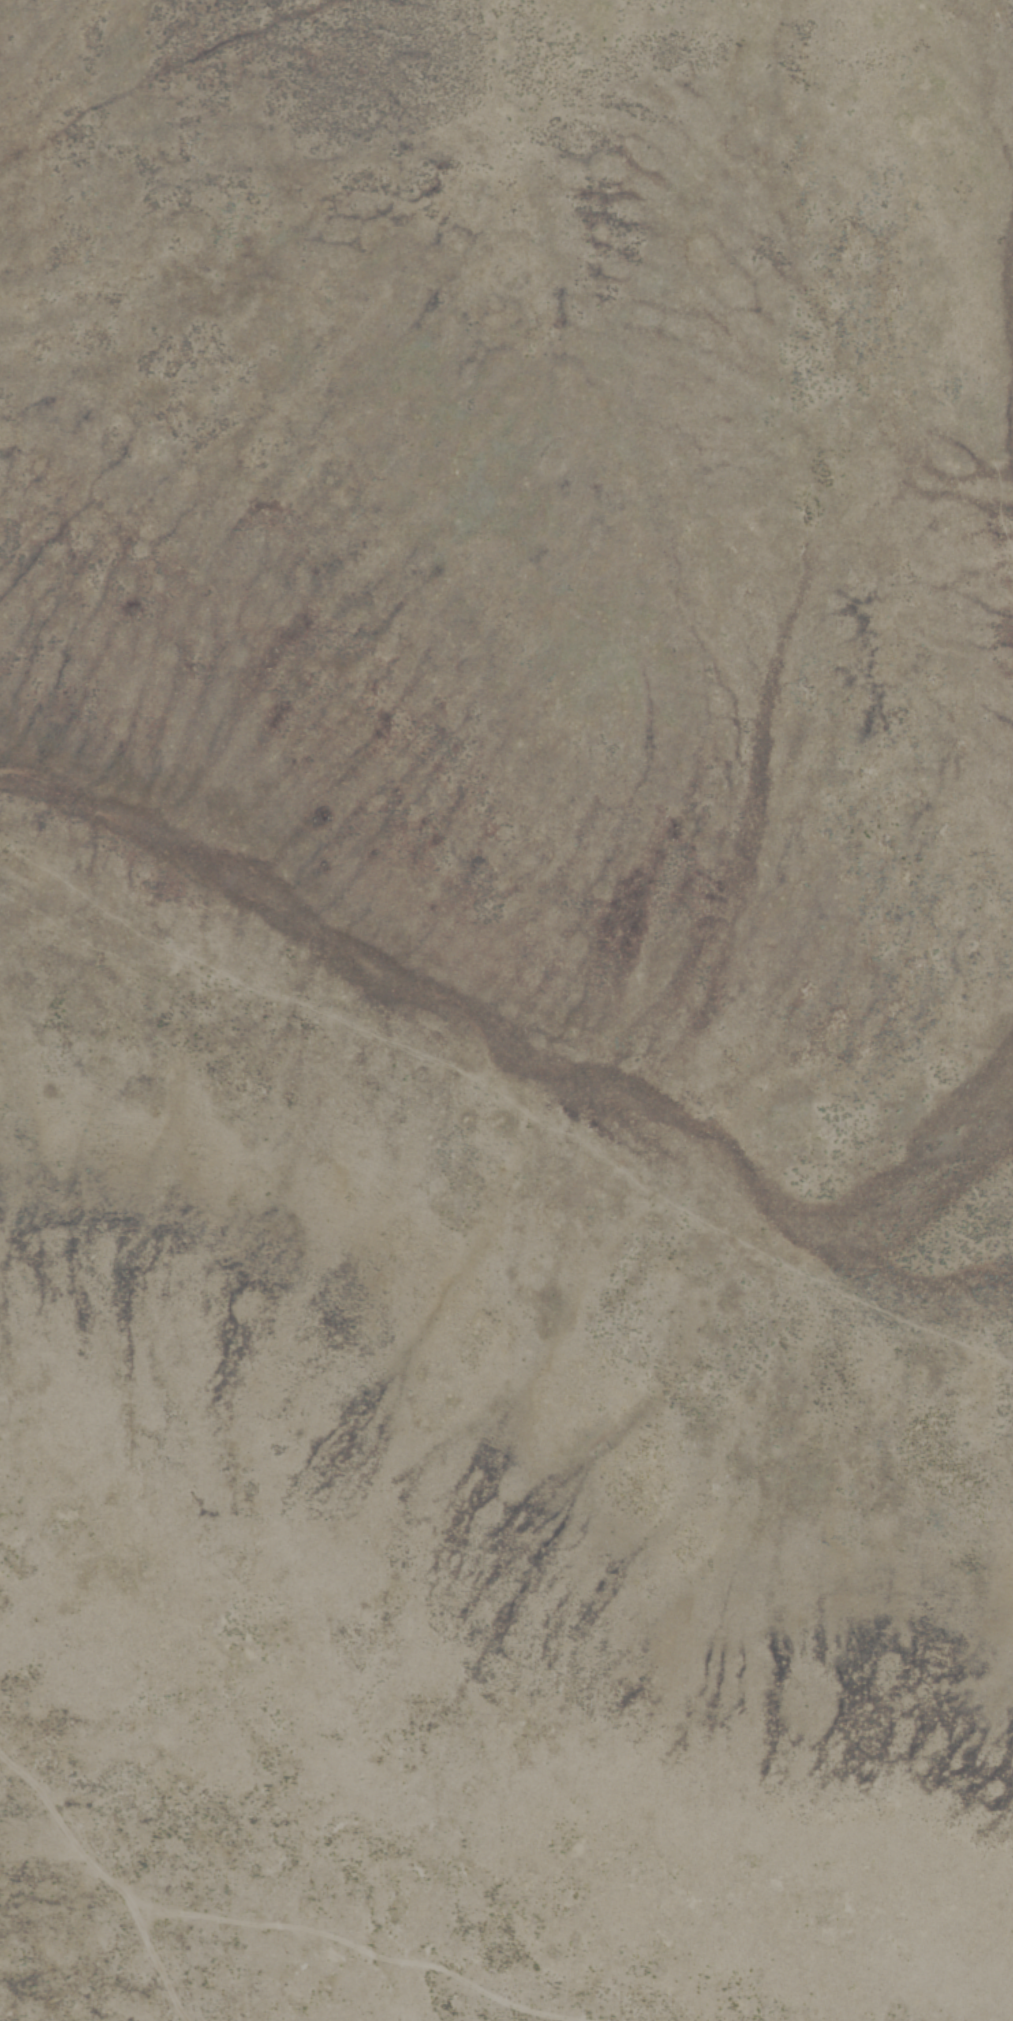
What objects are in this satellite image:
road: (106, 1878)
road: (361, 1947)

